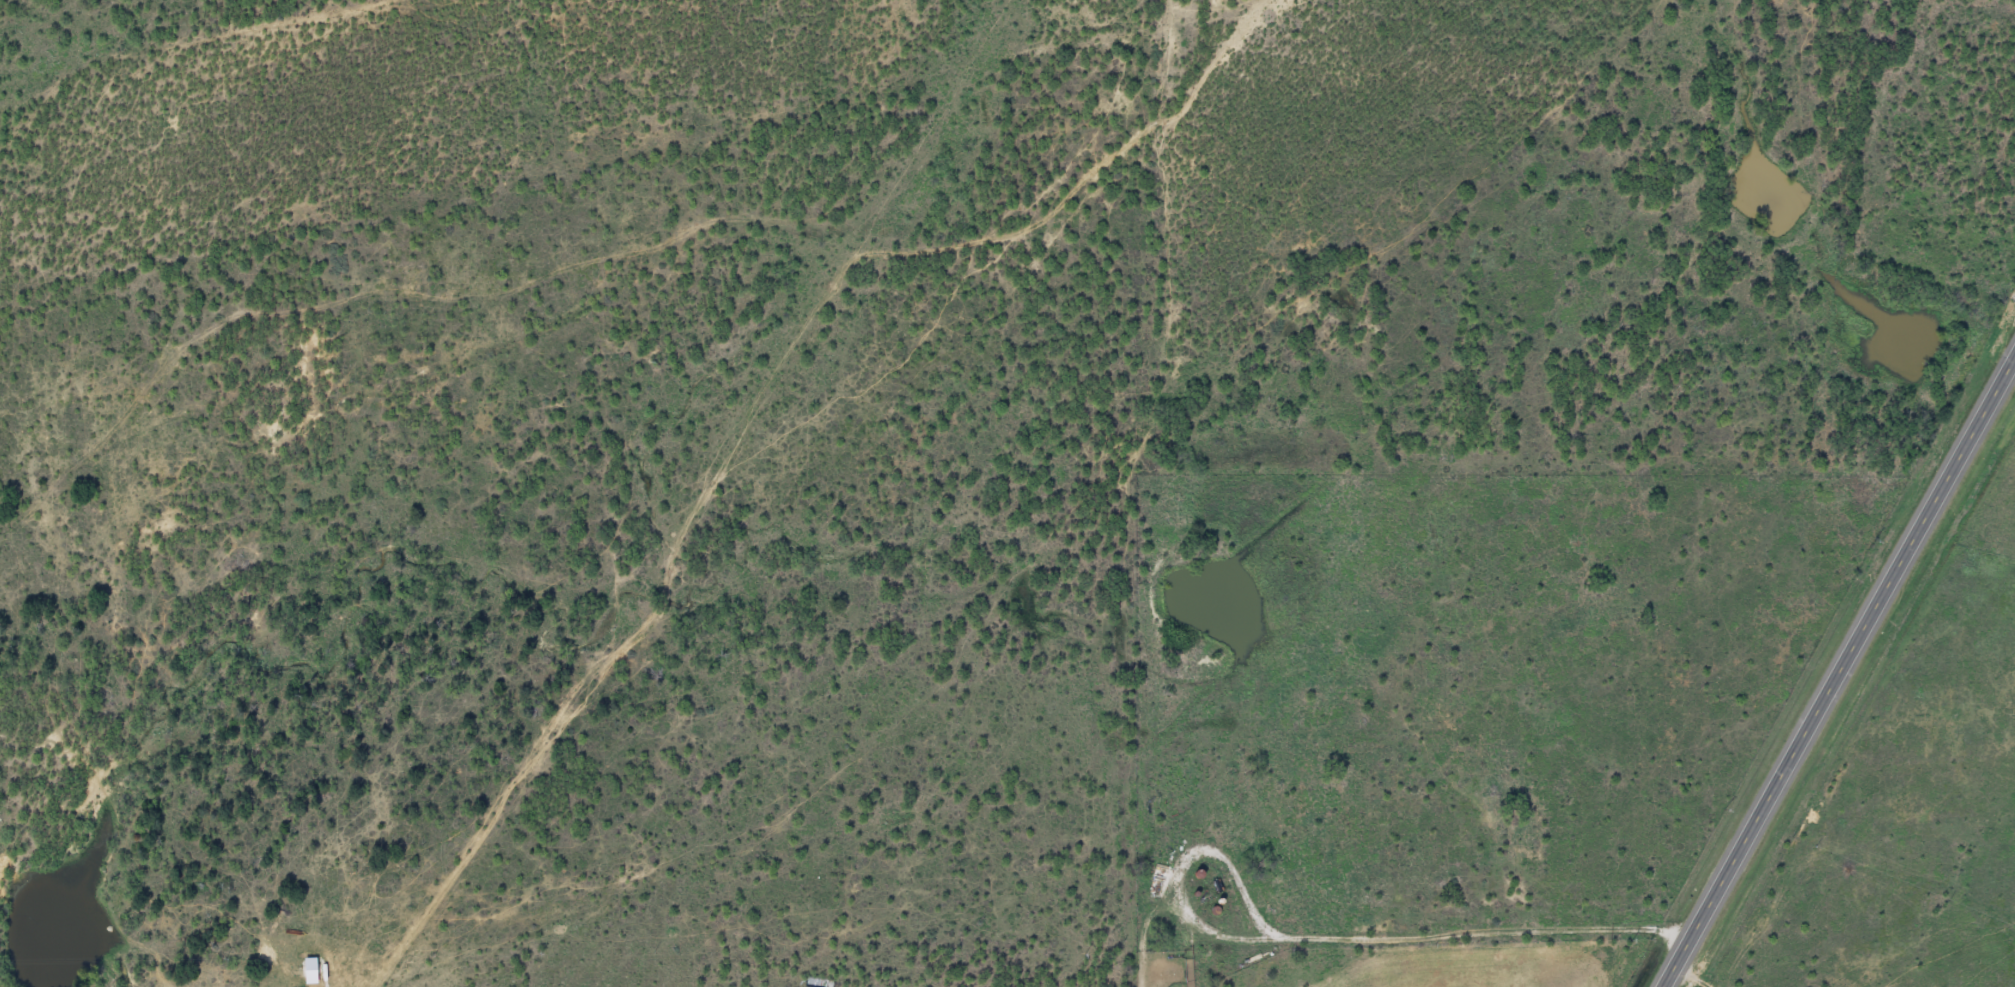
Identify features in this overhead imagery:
road: (700, 271)
road: (1138, 276)
road: (1020, 638)
road: (1837, 669)
road: (71, 908)
road: (1689, 976)

